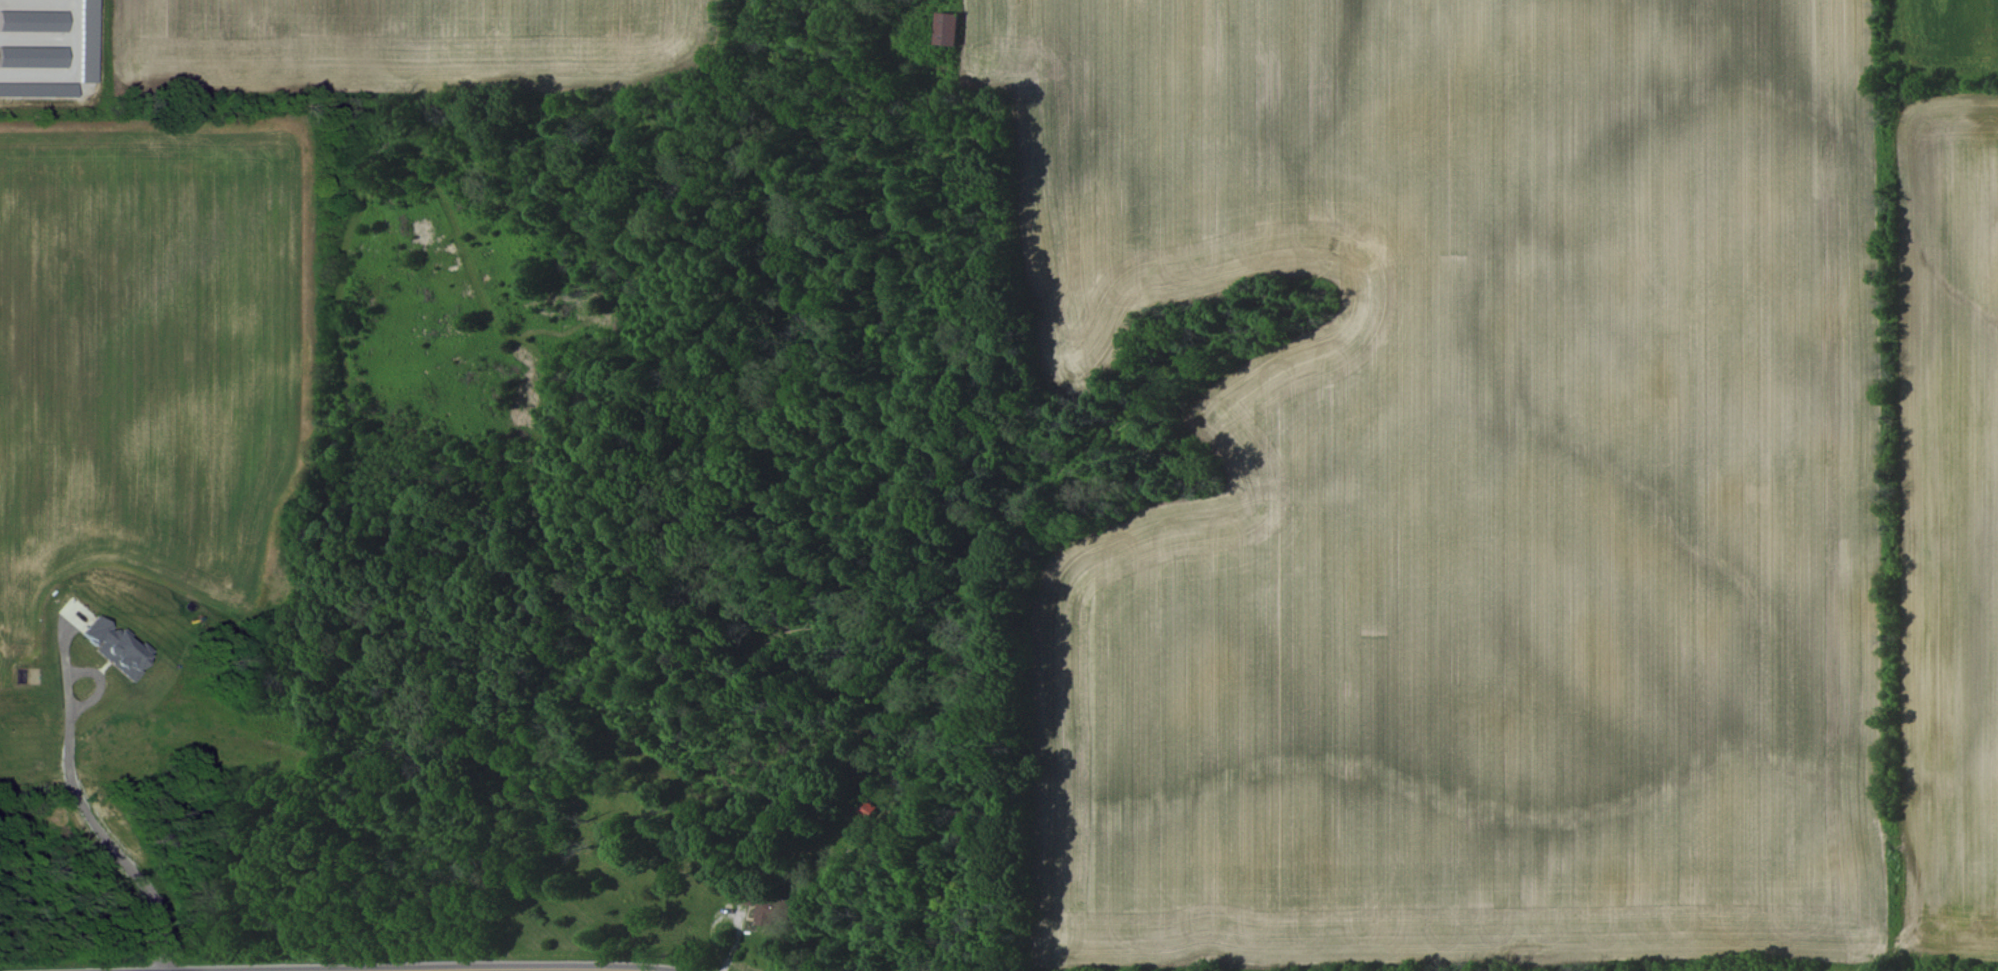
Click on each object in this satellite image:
building: (32, 21)
building: (947, 28)
building: (32, 56)
building: (115, 646)
road: (1073, 769)
road: (85, 801)
building: (769, 911)
road: (504, 969)

